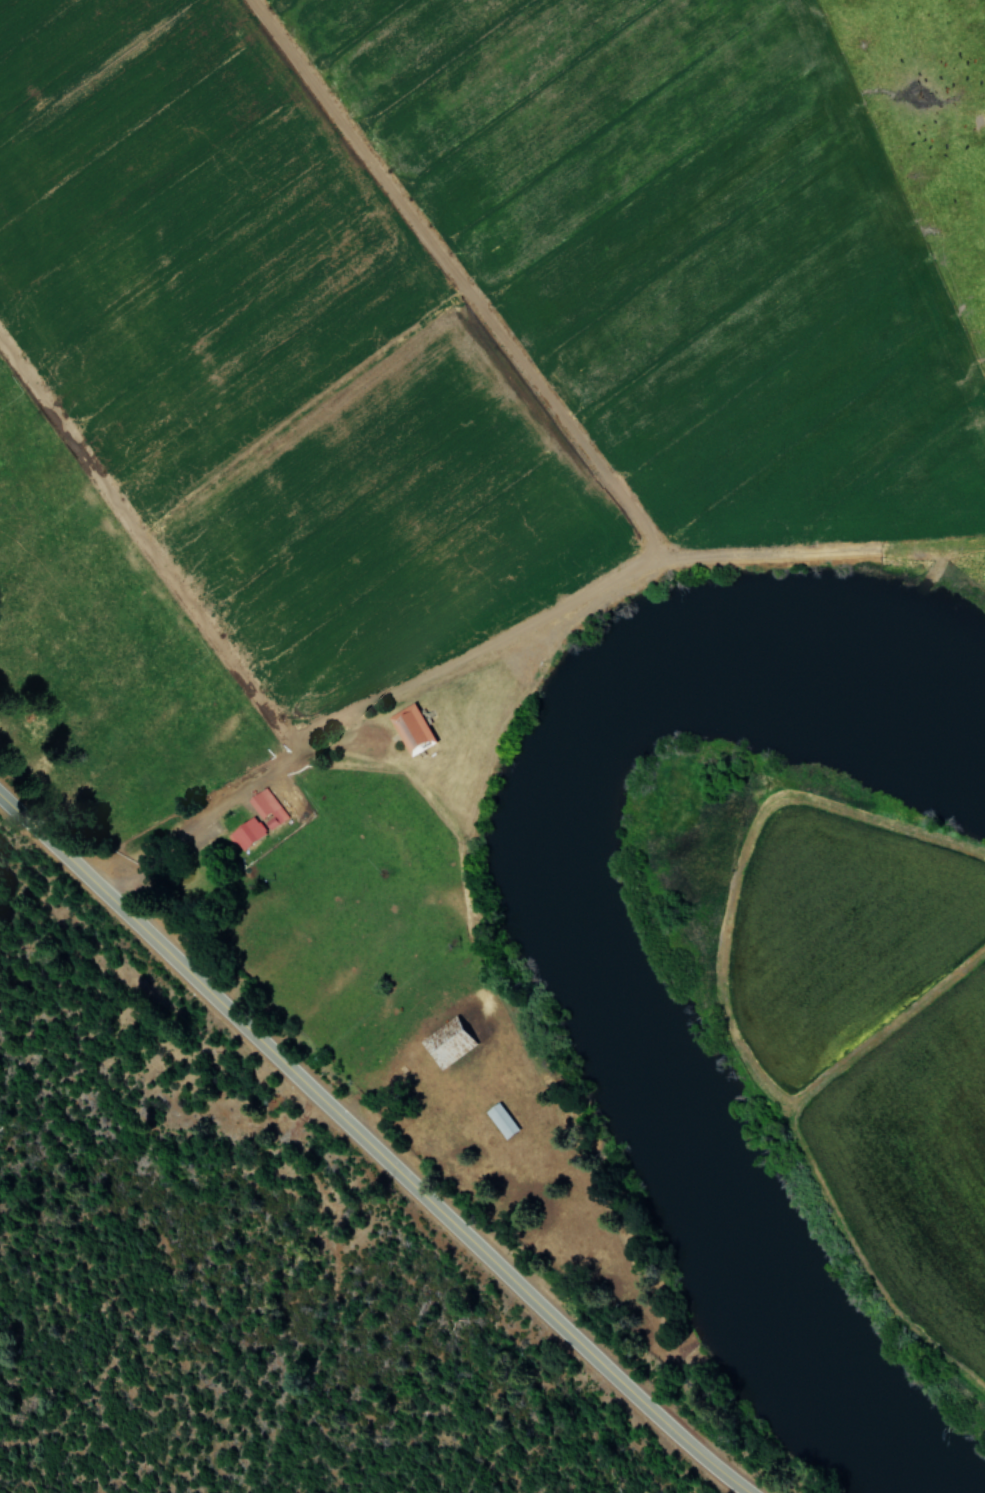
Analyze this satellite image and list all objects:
building: (244, 832)
river: (583, 945)
building: (499, 1120)
road: (369, 1150)

